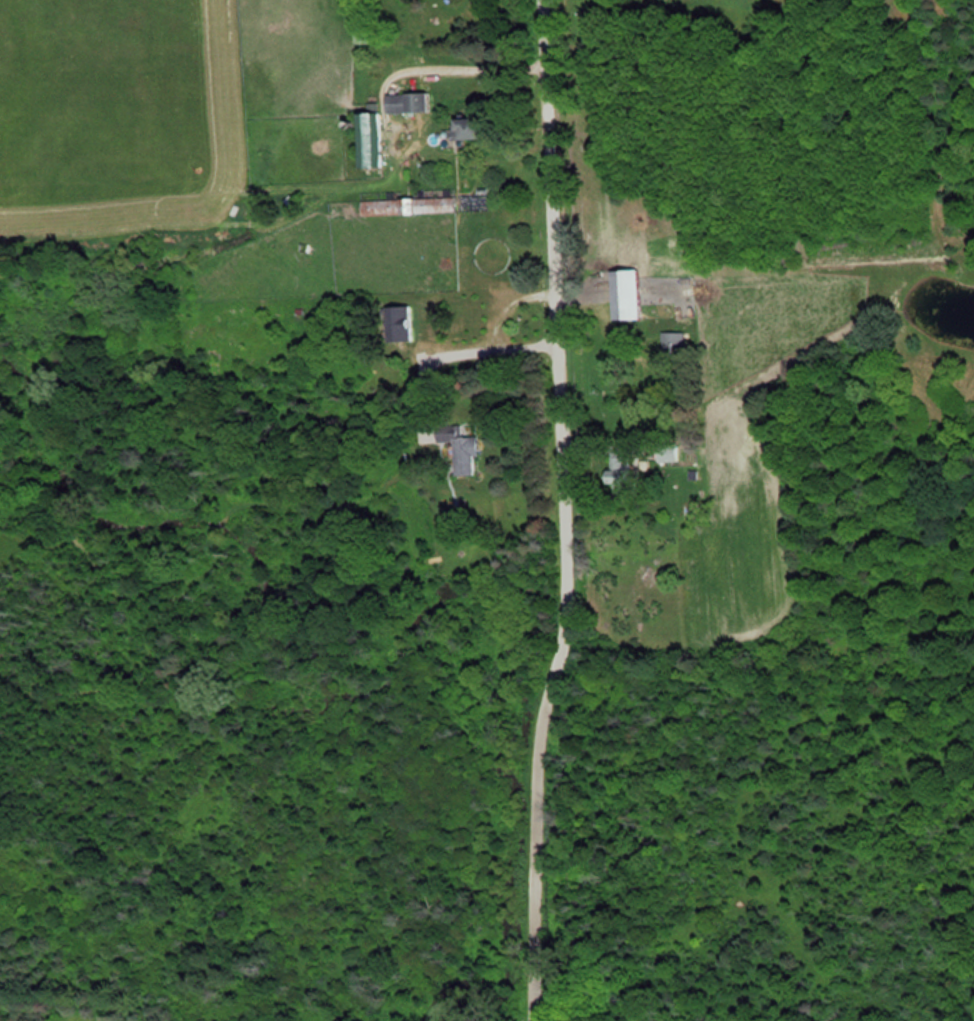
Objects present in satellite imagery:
building: (412, 102)
building: (473, 126)
building: (375, 141)
building: (427, 205)
building: (495, 254)
building: (634, 293)
road: (507, 305)
building: (409, 330)
road: (453, 351)
building: (463, 445)
building: (624, 473)
road: (560, 511)

